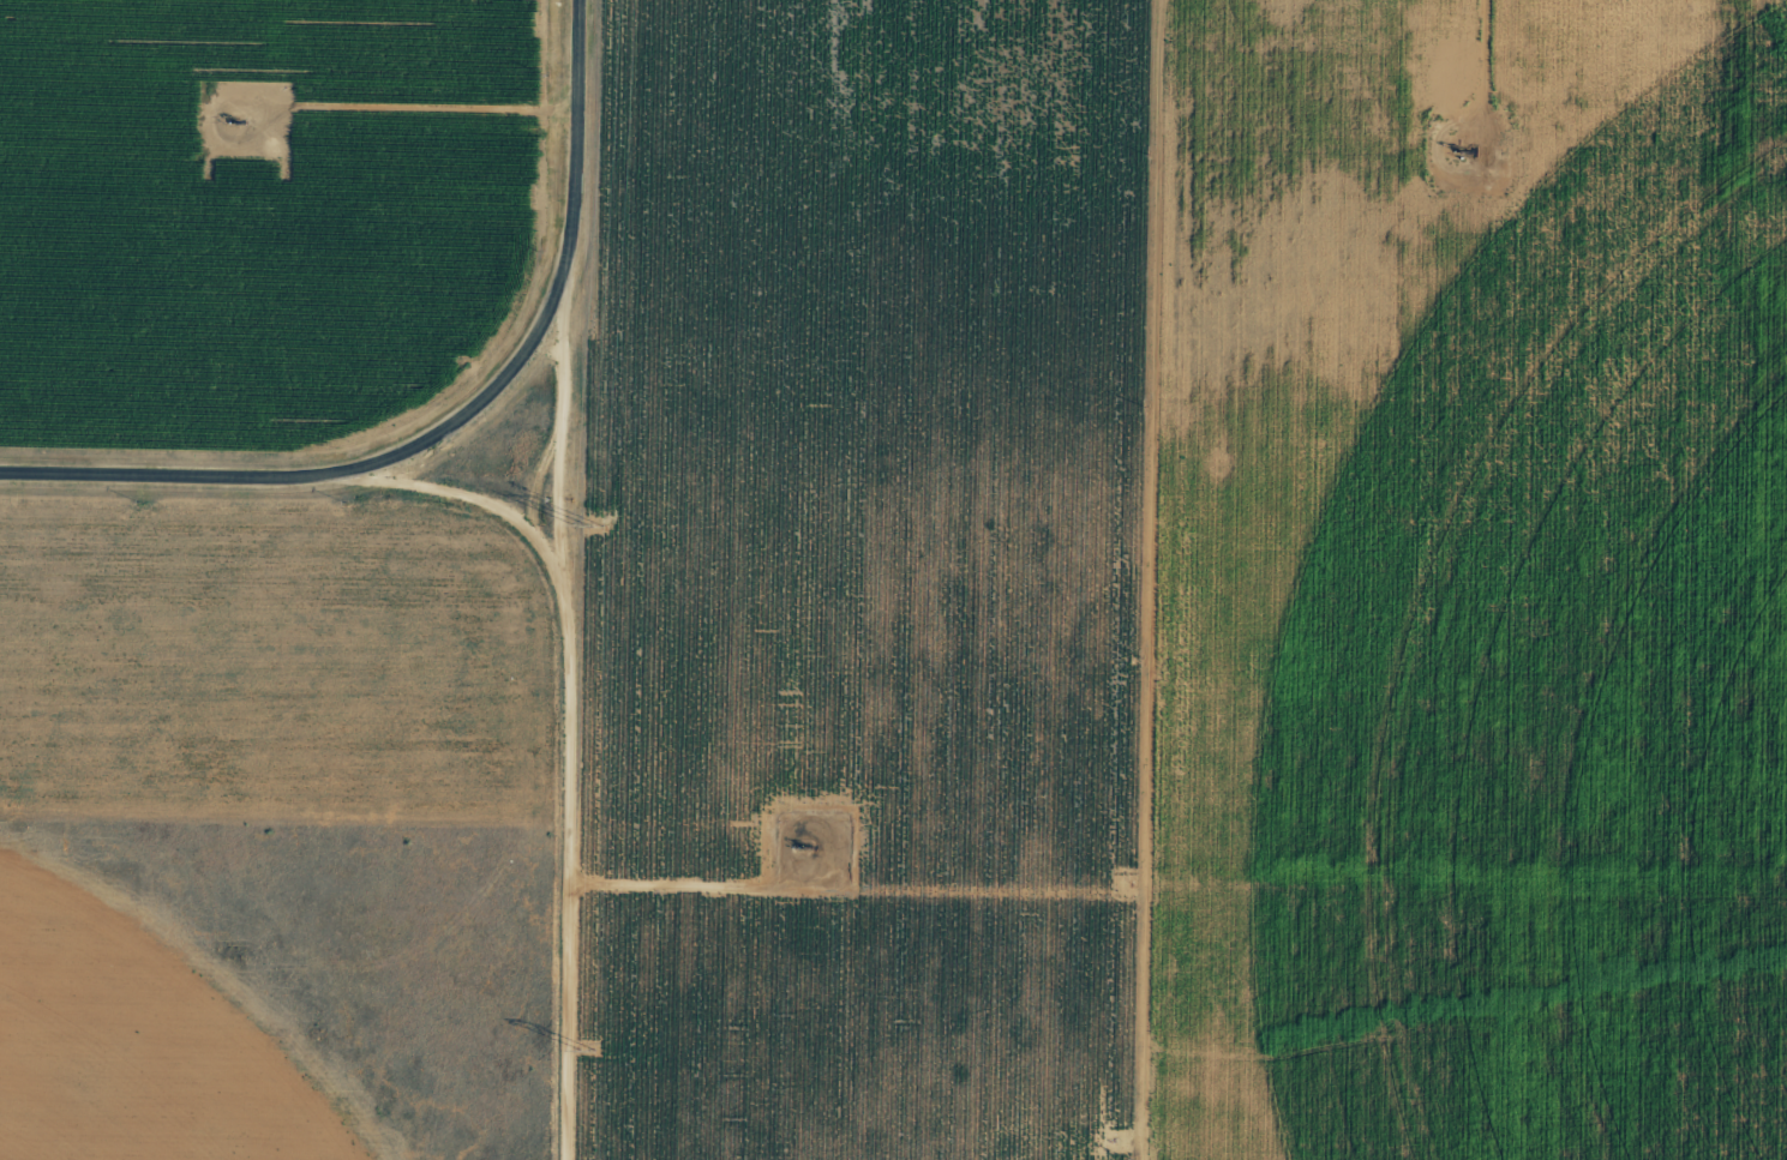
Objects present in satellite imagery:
petroleum well: (248, 119)
road: (575, 140)
petroleum well: (1471, 142)
road: (323, 474)
power tower: (590, 524)
road: (562, 720)
petroleum well: (806, 843)
power tower: (587, 1048)

